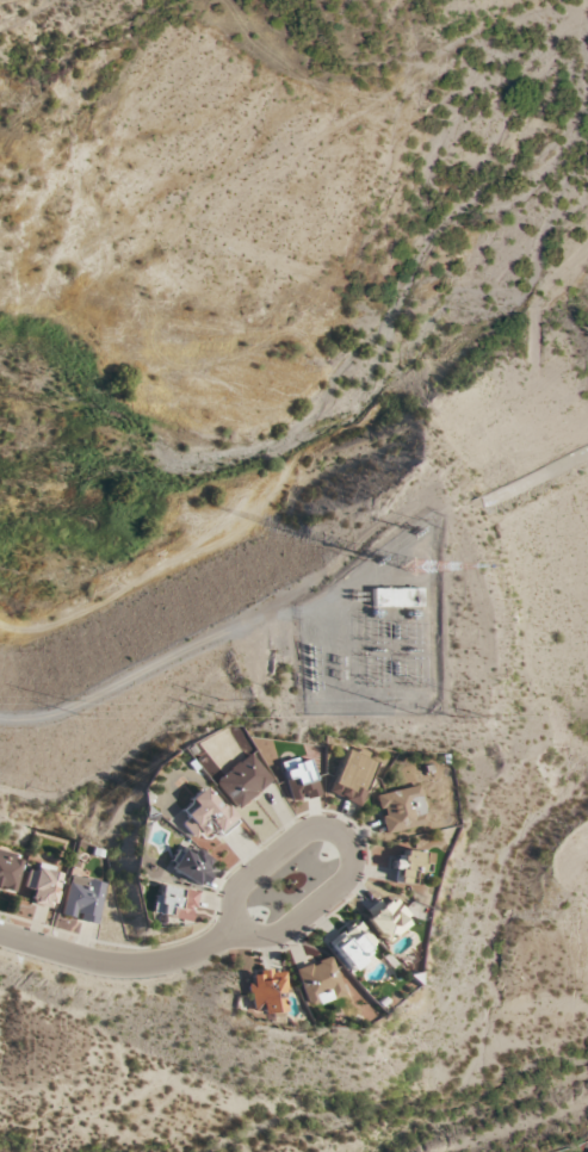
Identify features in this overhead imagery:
building: (395, 597)
dam: (206, 602)
building: (352, 775)
building: (298, 778)
building: (243, 780)
building: (401, 809)
building: (204, 815)
road: (345, 838)
building: (188, 863)
building: (406, 866)
building: (8, 872)
building: (41, 884)
building: (81, 899)
building: (173, 902)
building: (385, 918)
building: (353, 946)
road: (118, 961)
building: (318, 981)
building: (265, 991)

